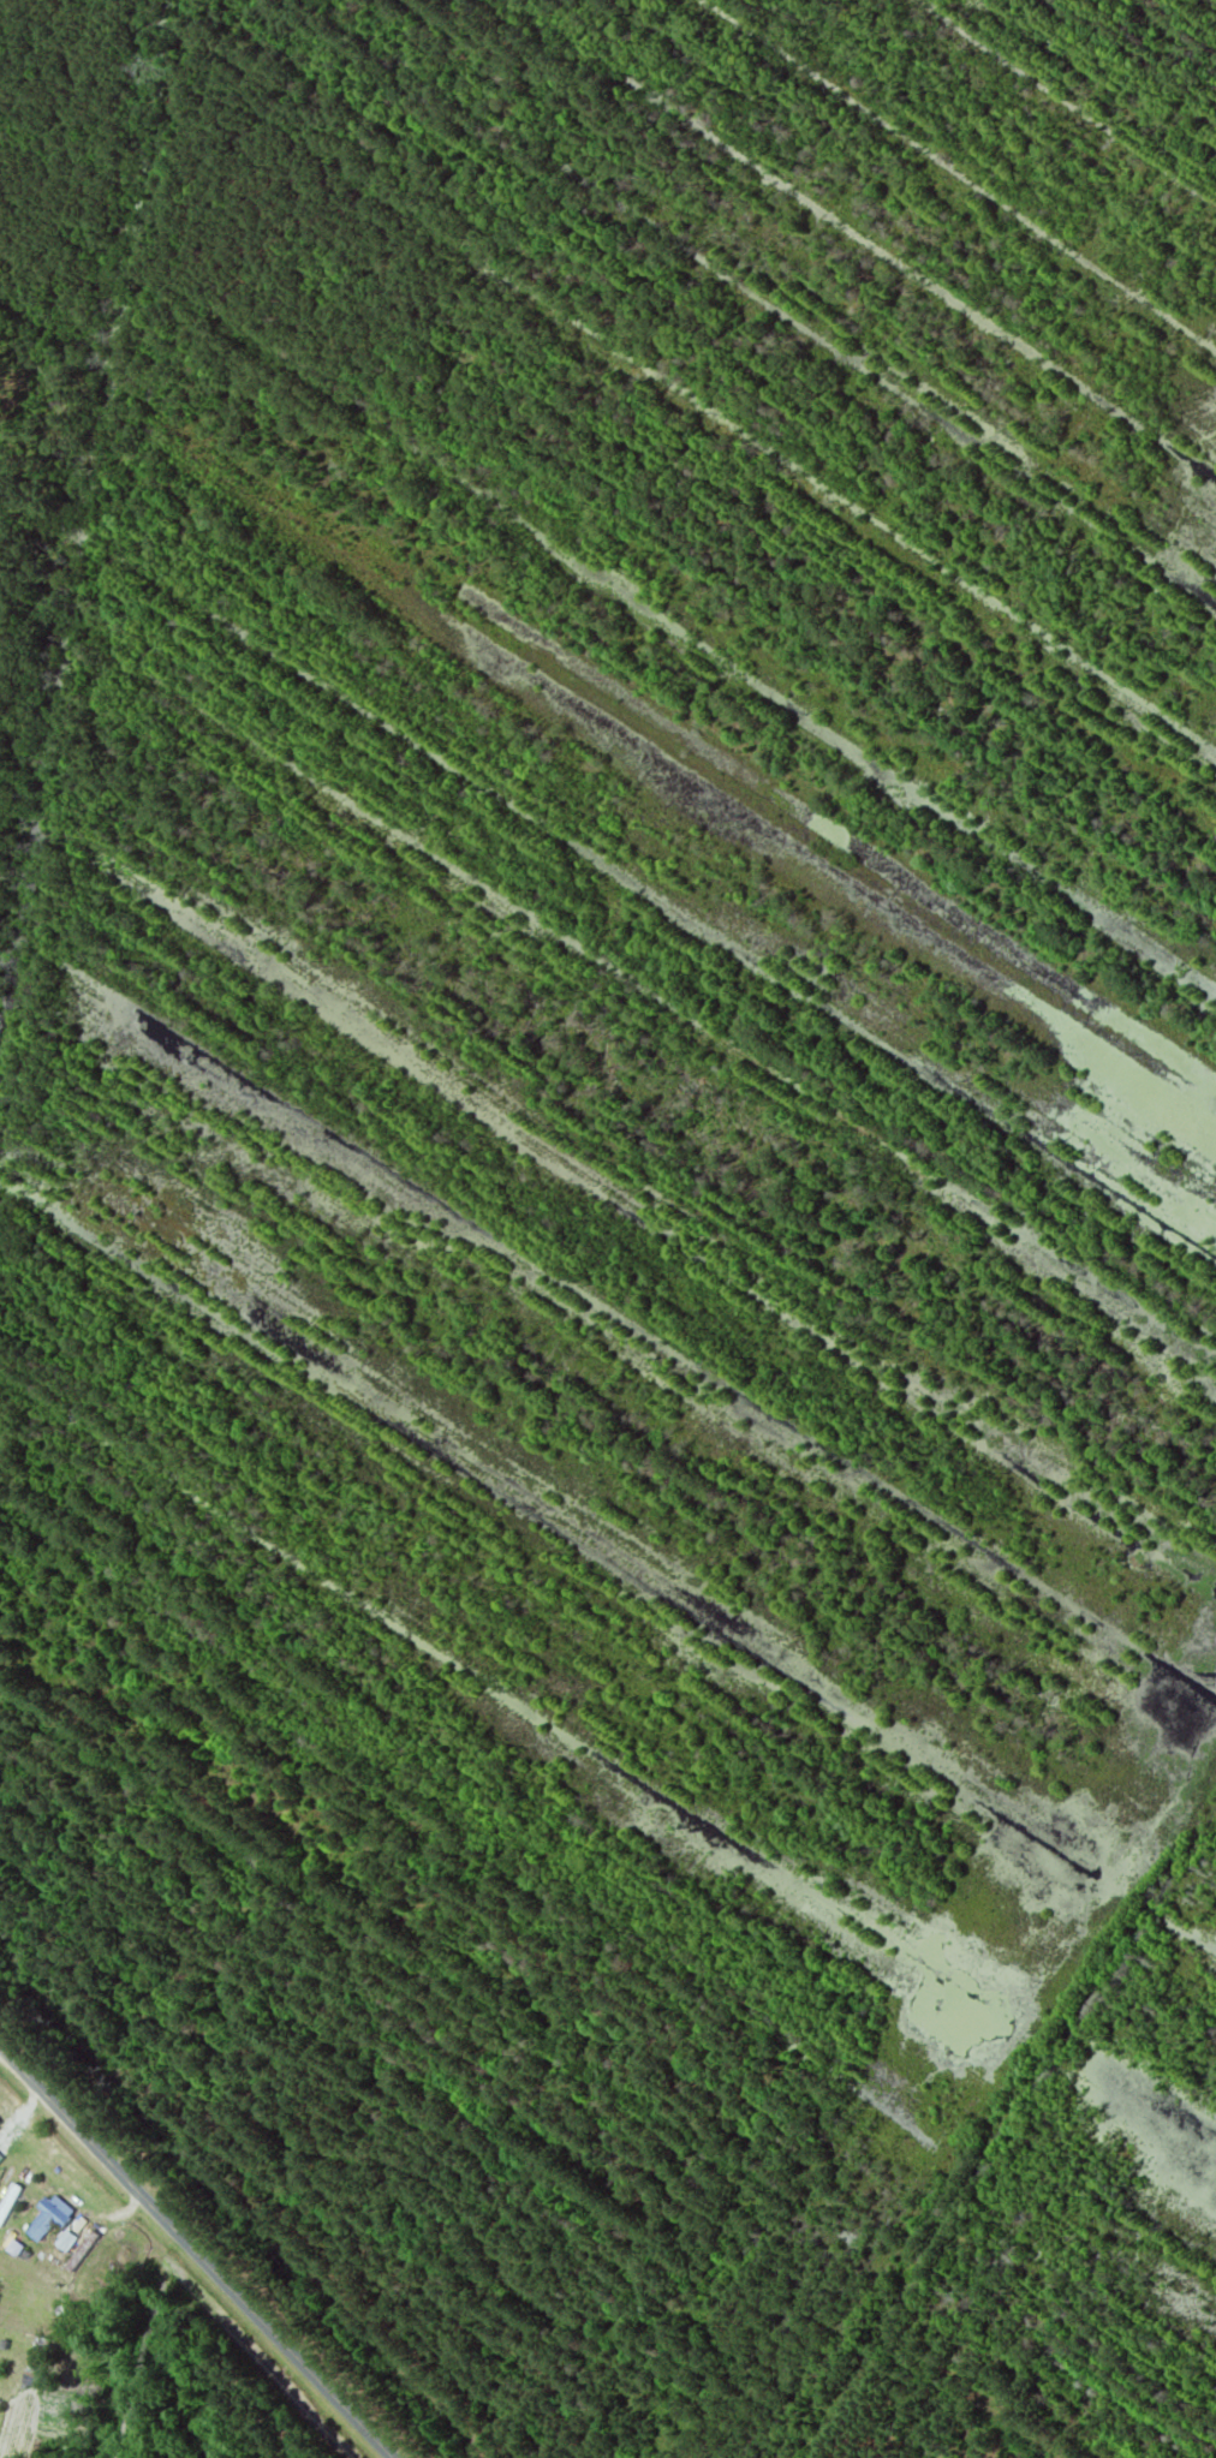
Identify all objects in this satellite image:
building: (0, 2128)
building: (47, 2220)
building: (65, 2244)
building: (83, 2254)
road: (196, 2254)
building: (0, 2273)

